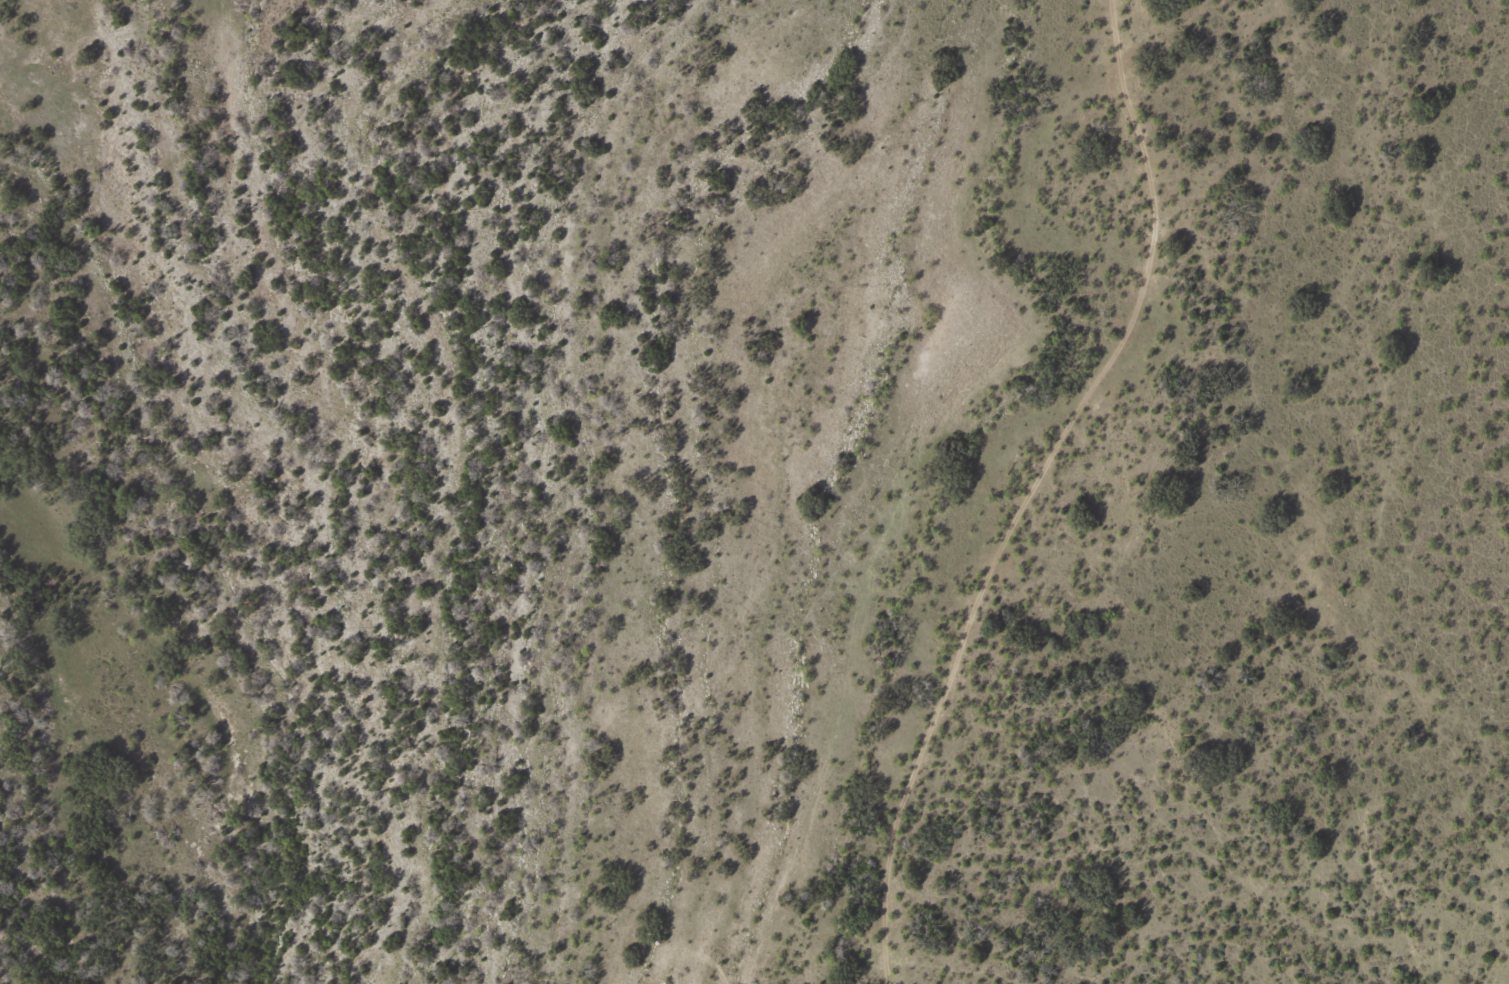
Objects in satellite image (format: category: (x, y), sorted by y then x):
road: (1020, 494)
road: (178, 752)

